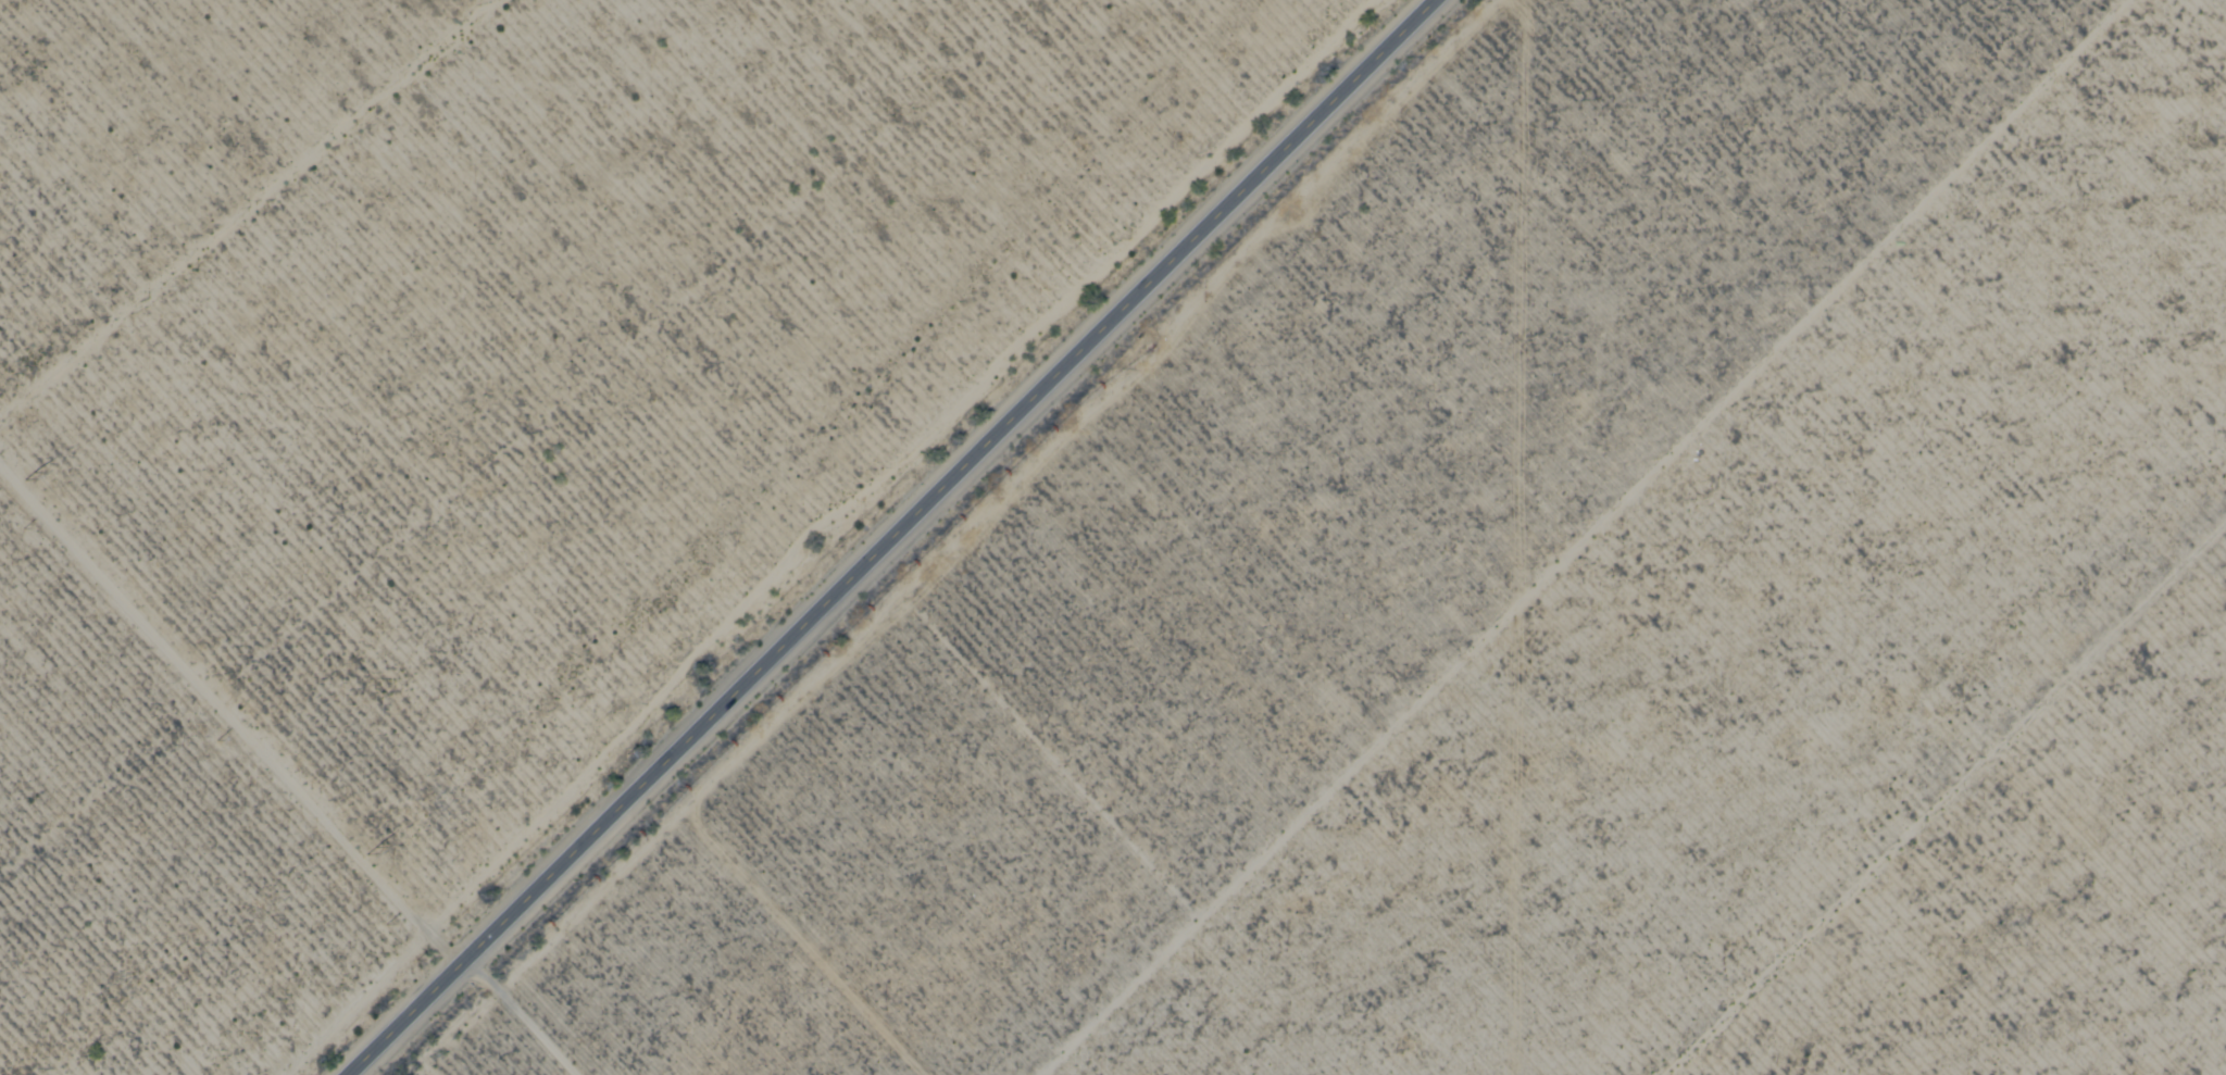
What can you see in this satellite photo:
power tower: (37, 472)
road: (887, 537)
power tower: (404, 853)

